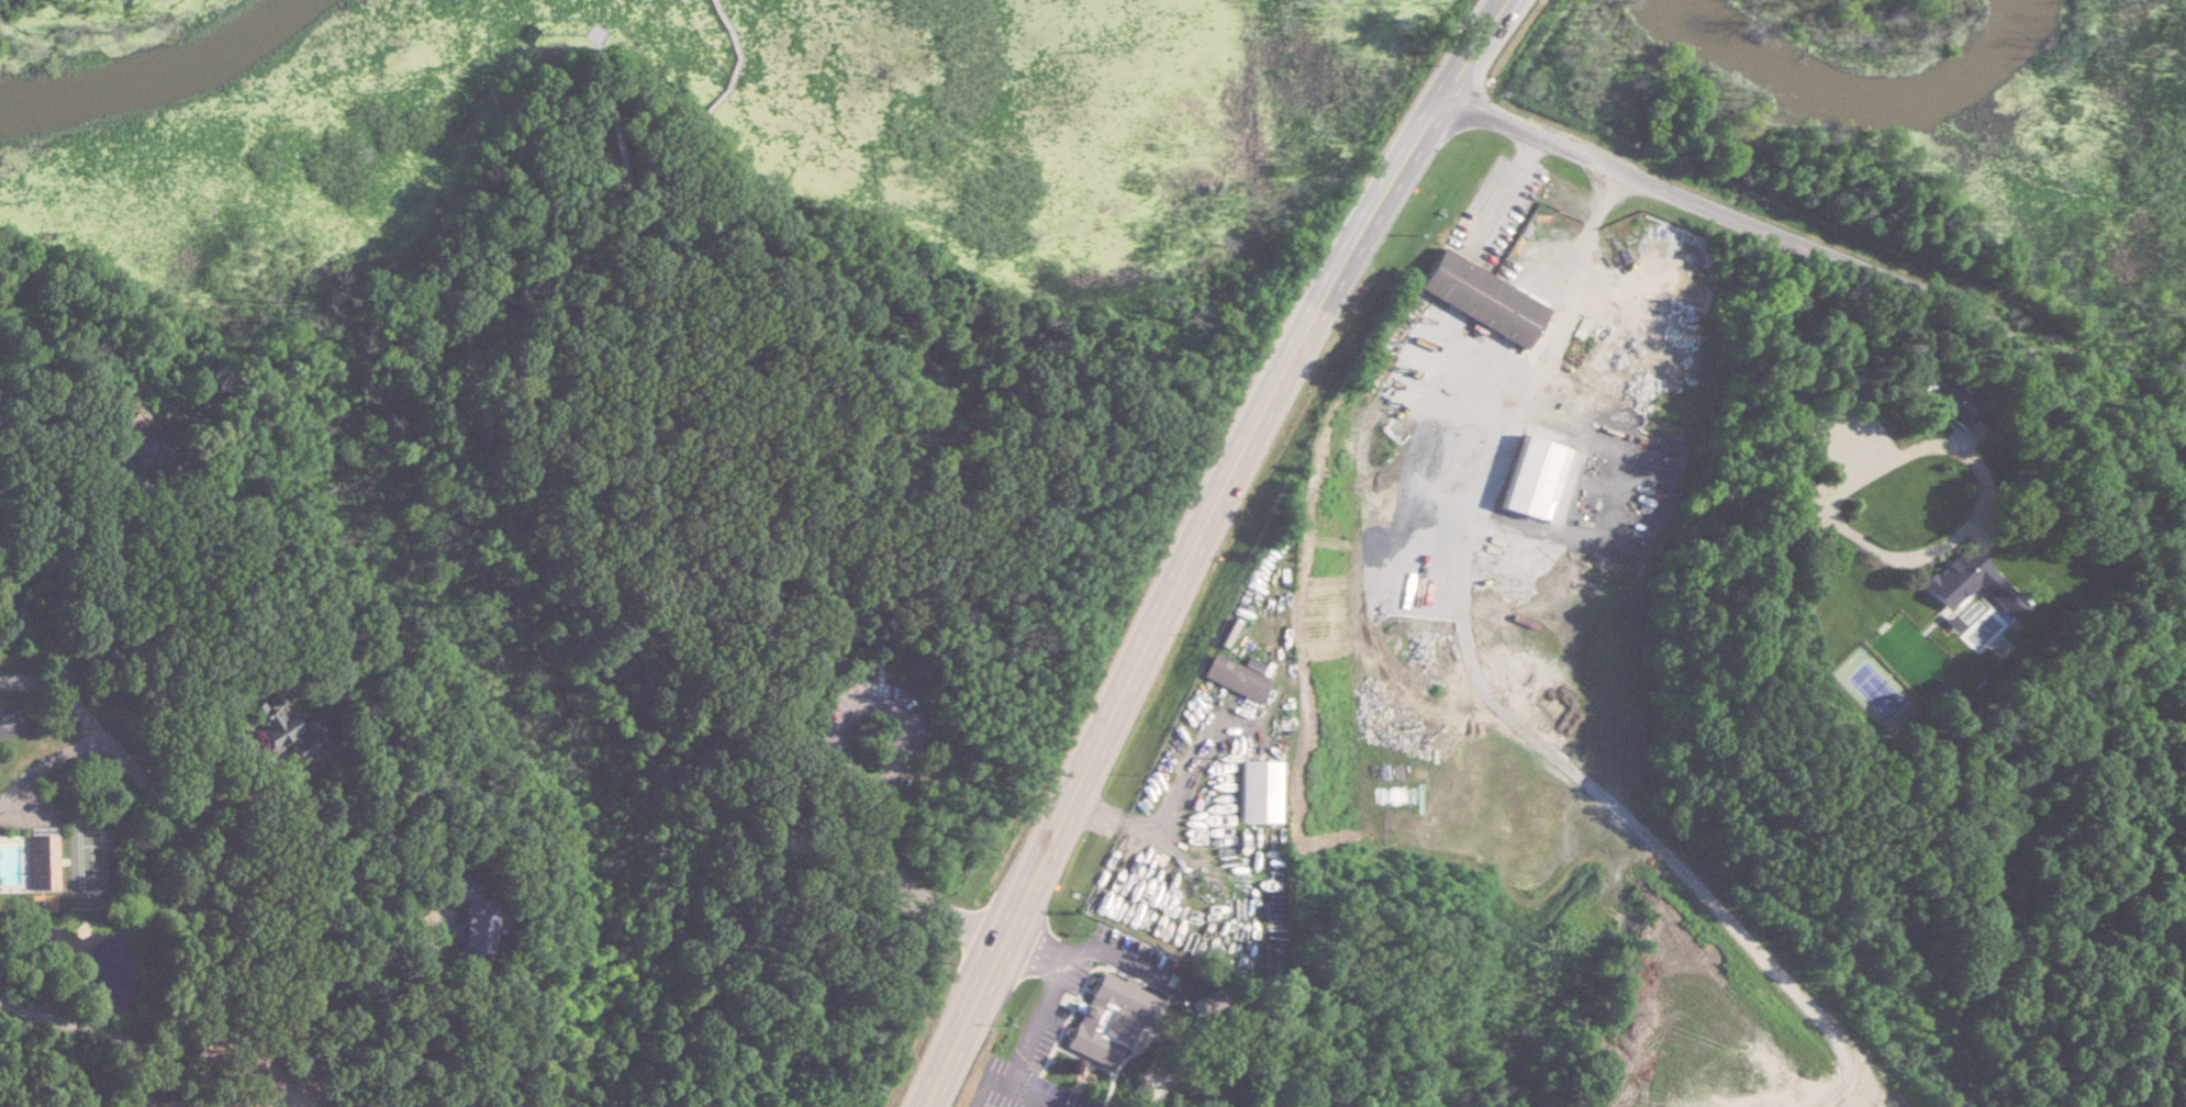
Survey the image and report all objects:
river: (158, 74)
river: (1855, 98)
road: (713, 101)
road: (1510, 189)
road: (609, 202)
road: (666, 230)
road: (1833, 258)
building: (1481, 298)
road: (1564, 325)
road: (938, 351)
road: (1773, 381)
building: (1964, 411)
road: (882, 445)
building: (149, 454)
building: (120, 474)
building: (1532, 478)
road: (1197, 544)
road: (1896, 555)
building: (1965, 579)
road: (110, 596)
road: (2144, 611)
building: (1235, 677)
road: (101, 735)
building: (288, 737)
road: (879, 779)
building: (1256, 792)
road: (286, 803)
road: (1131, 823)
building: (42, 860)
road: (293, 874)
road: (201, 915)
building: (473, 915)
road: (1051, 996)
building: (1107, 1017)
road: (107, 1029)

